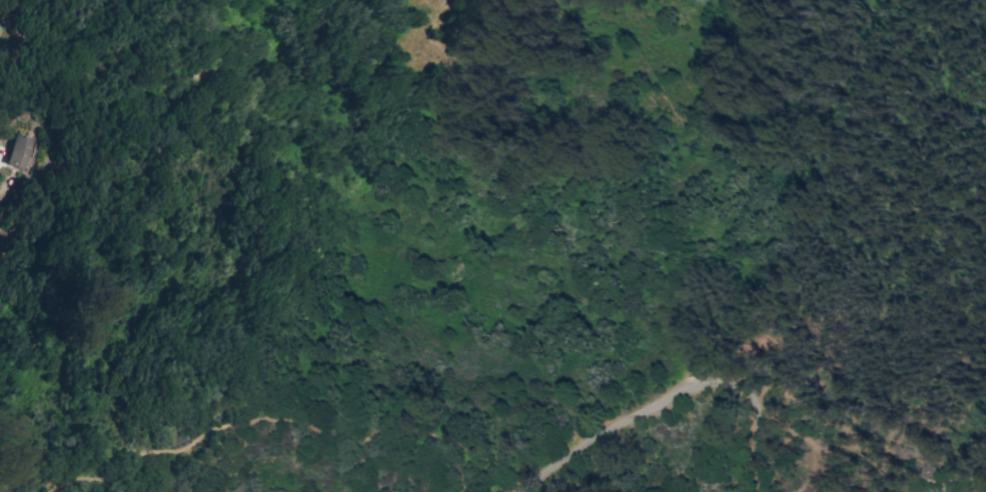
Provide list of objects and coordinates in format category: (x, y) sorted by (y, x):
building: (18, 151)
road: (670, 397)

